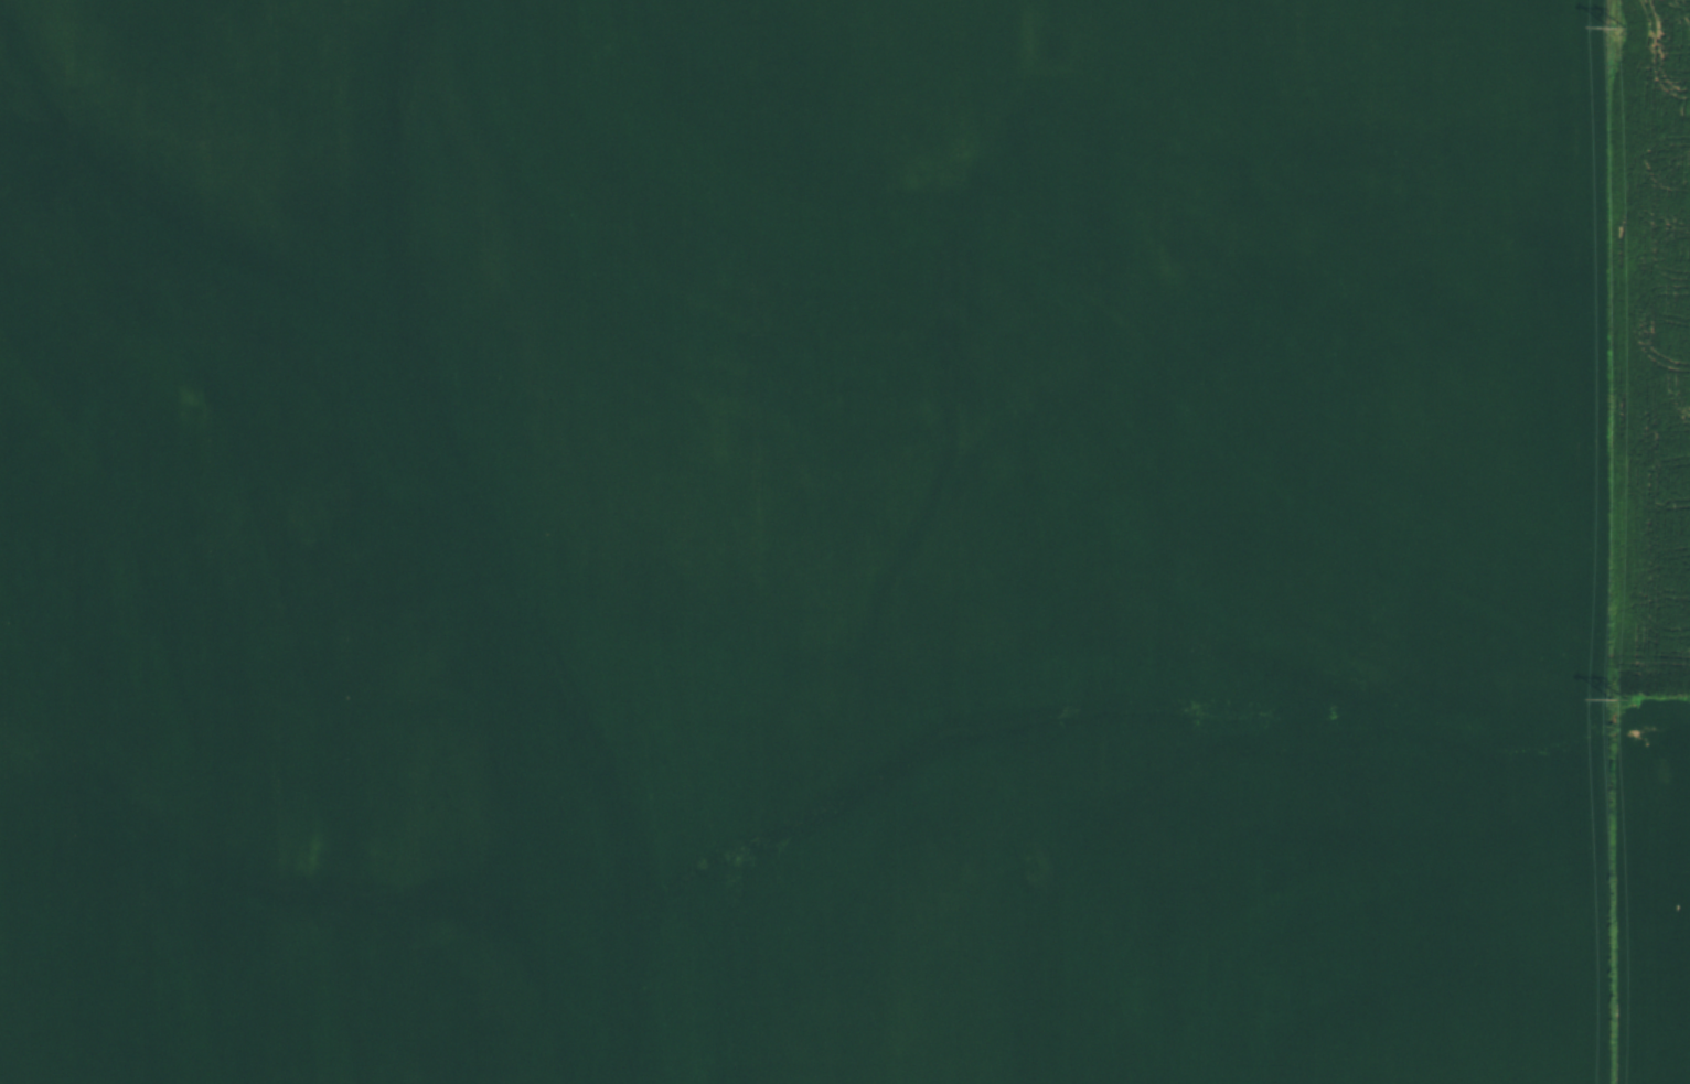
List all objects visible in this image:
power tower: (1614, 21)
power tower: (1616, 694)

